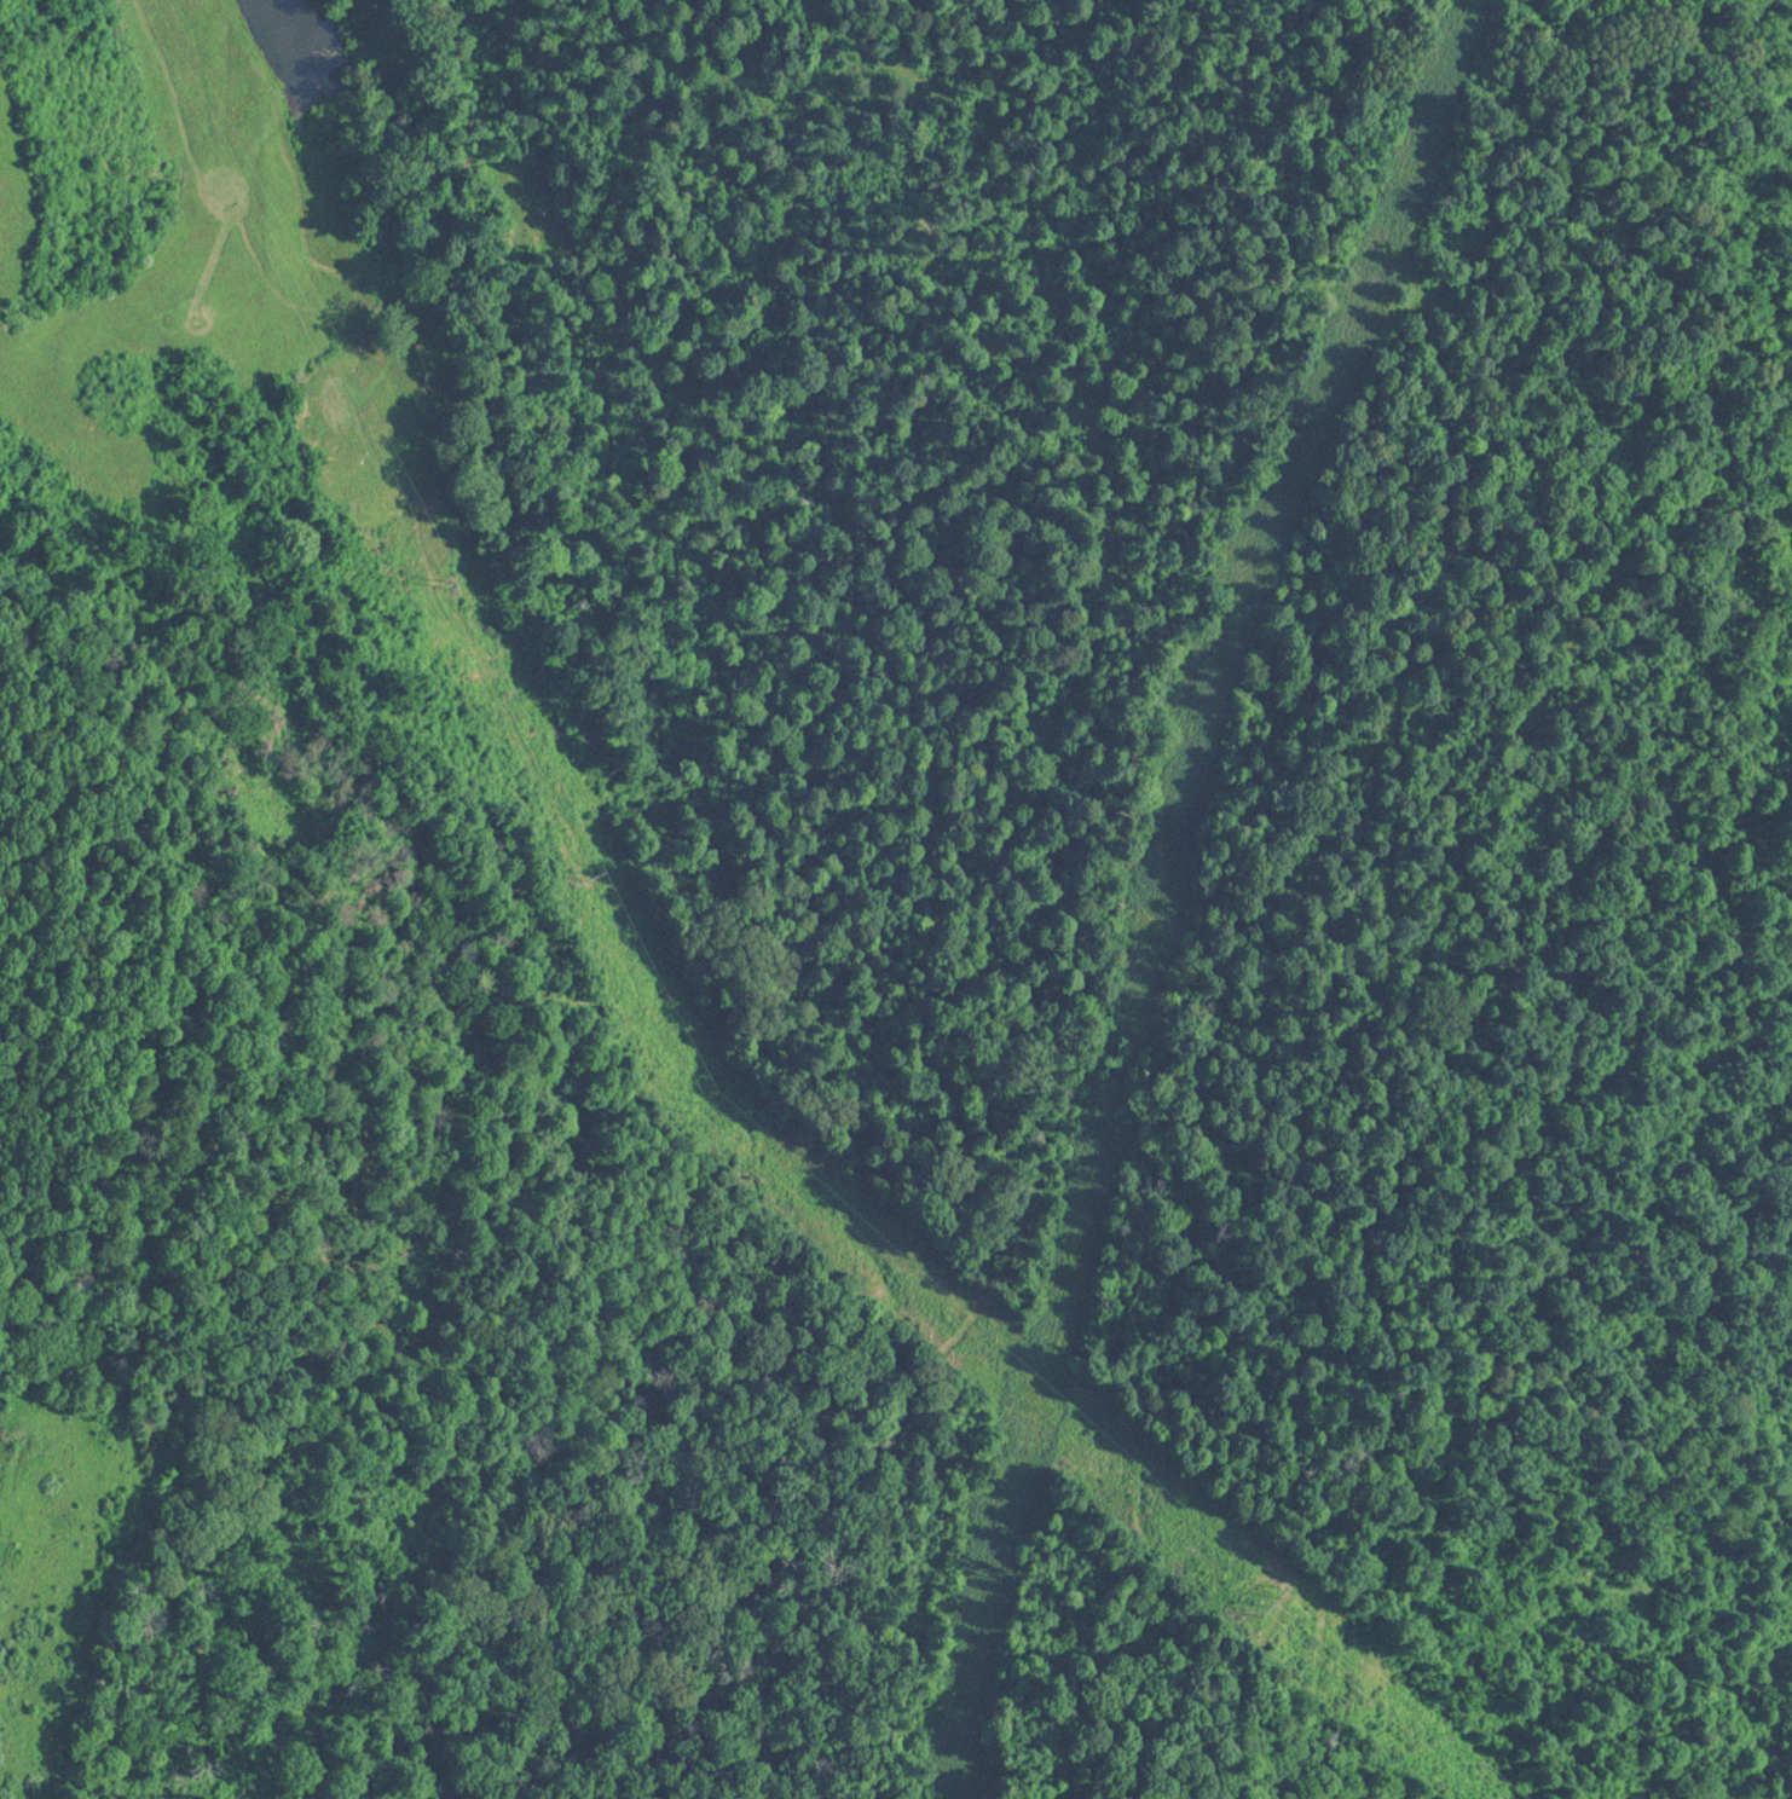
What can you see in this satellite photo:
building: (764, 585)
road: (296, 615)

